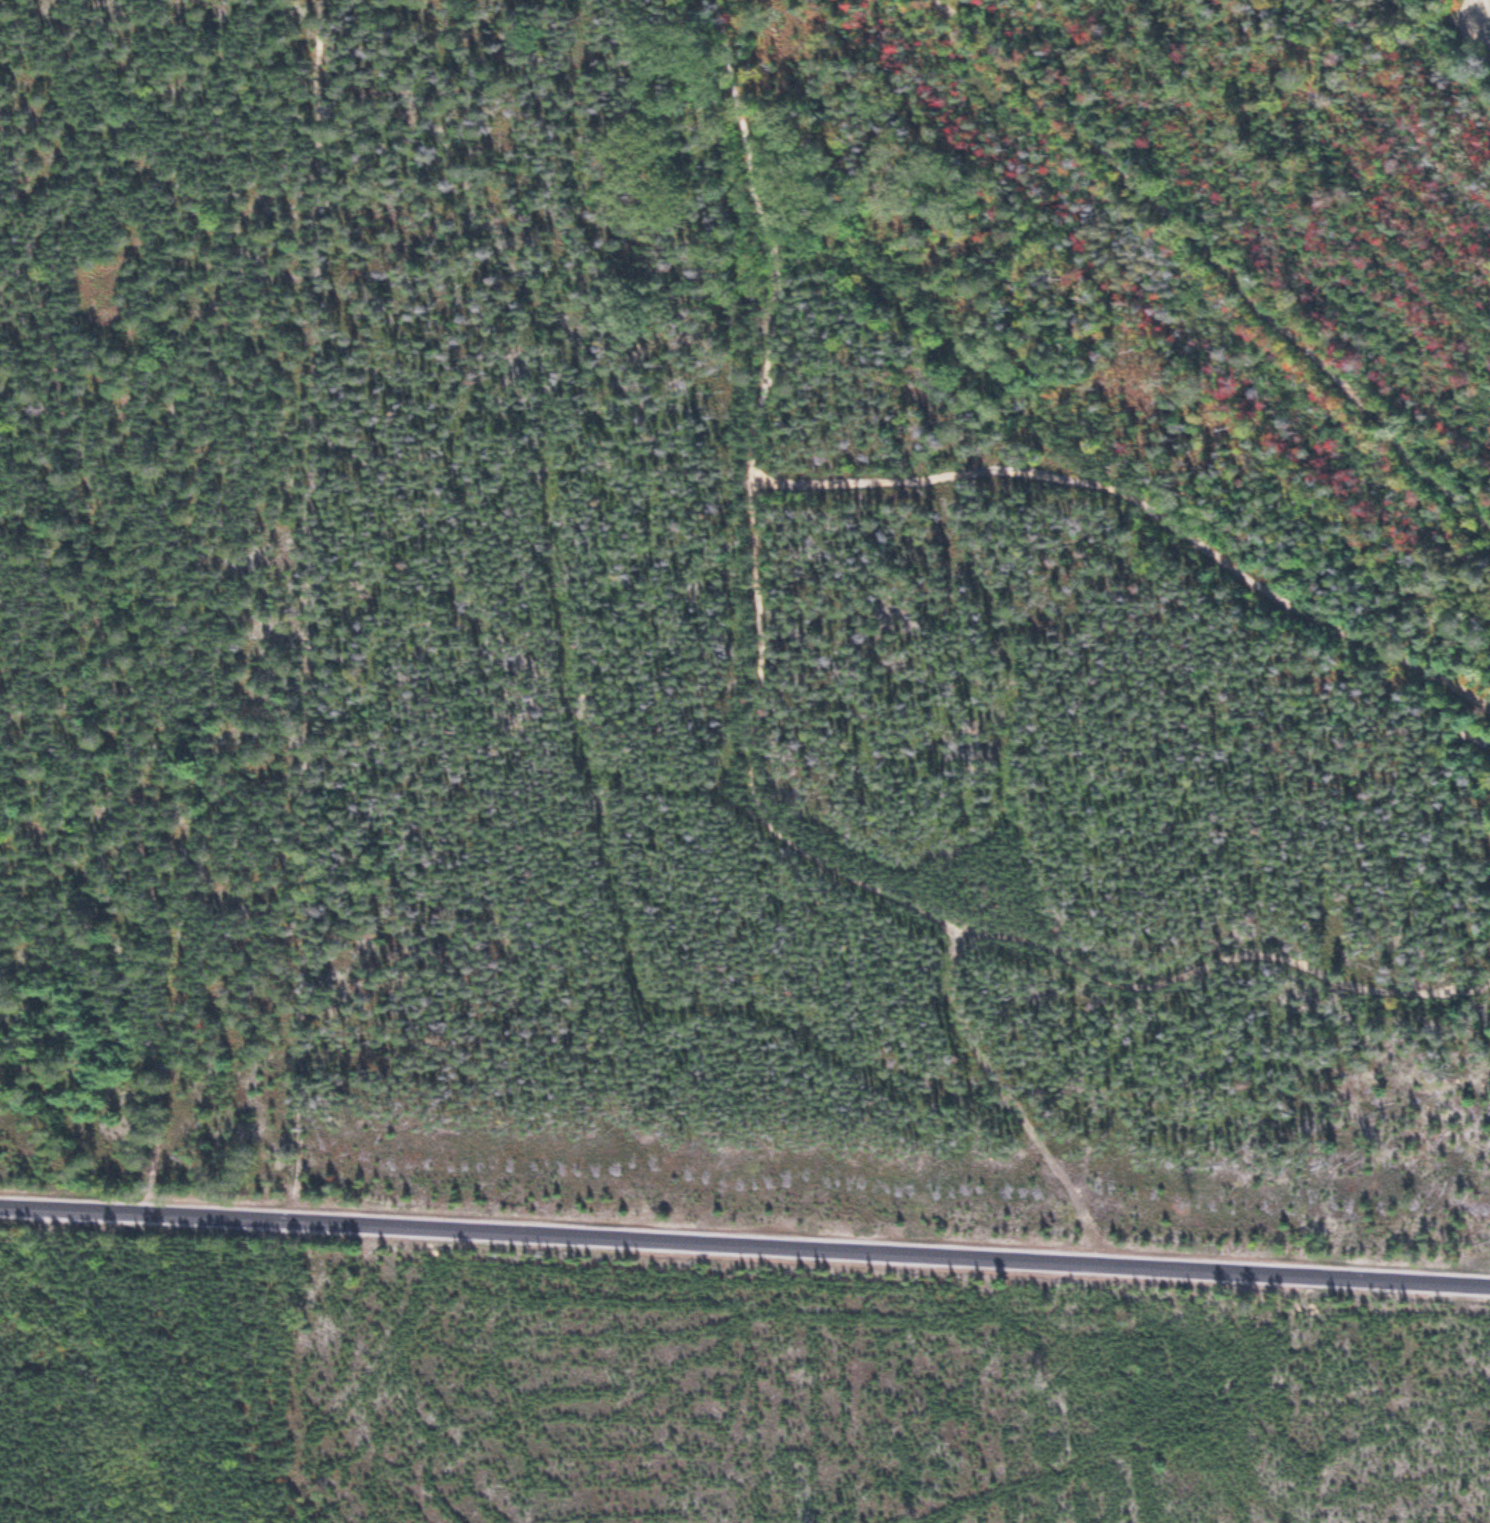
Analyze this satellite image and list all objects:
road: (744, 1240)

